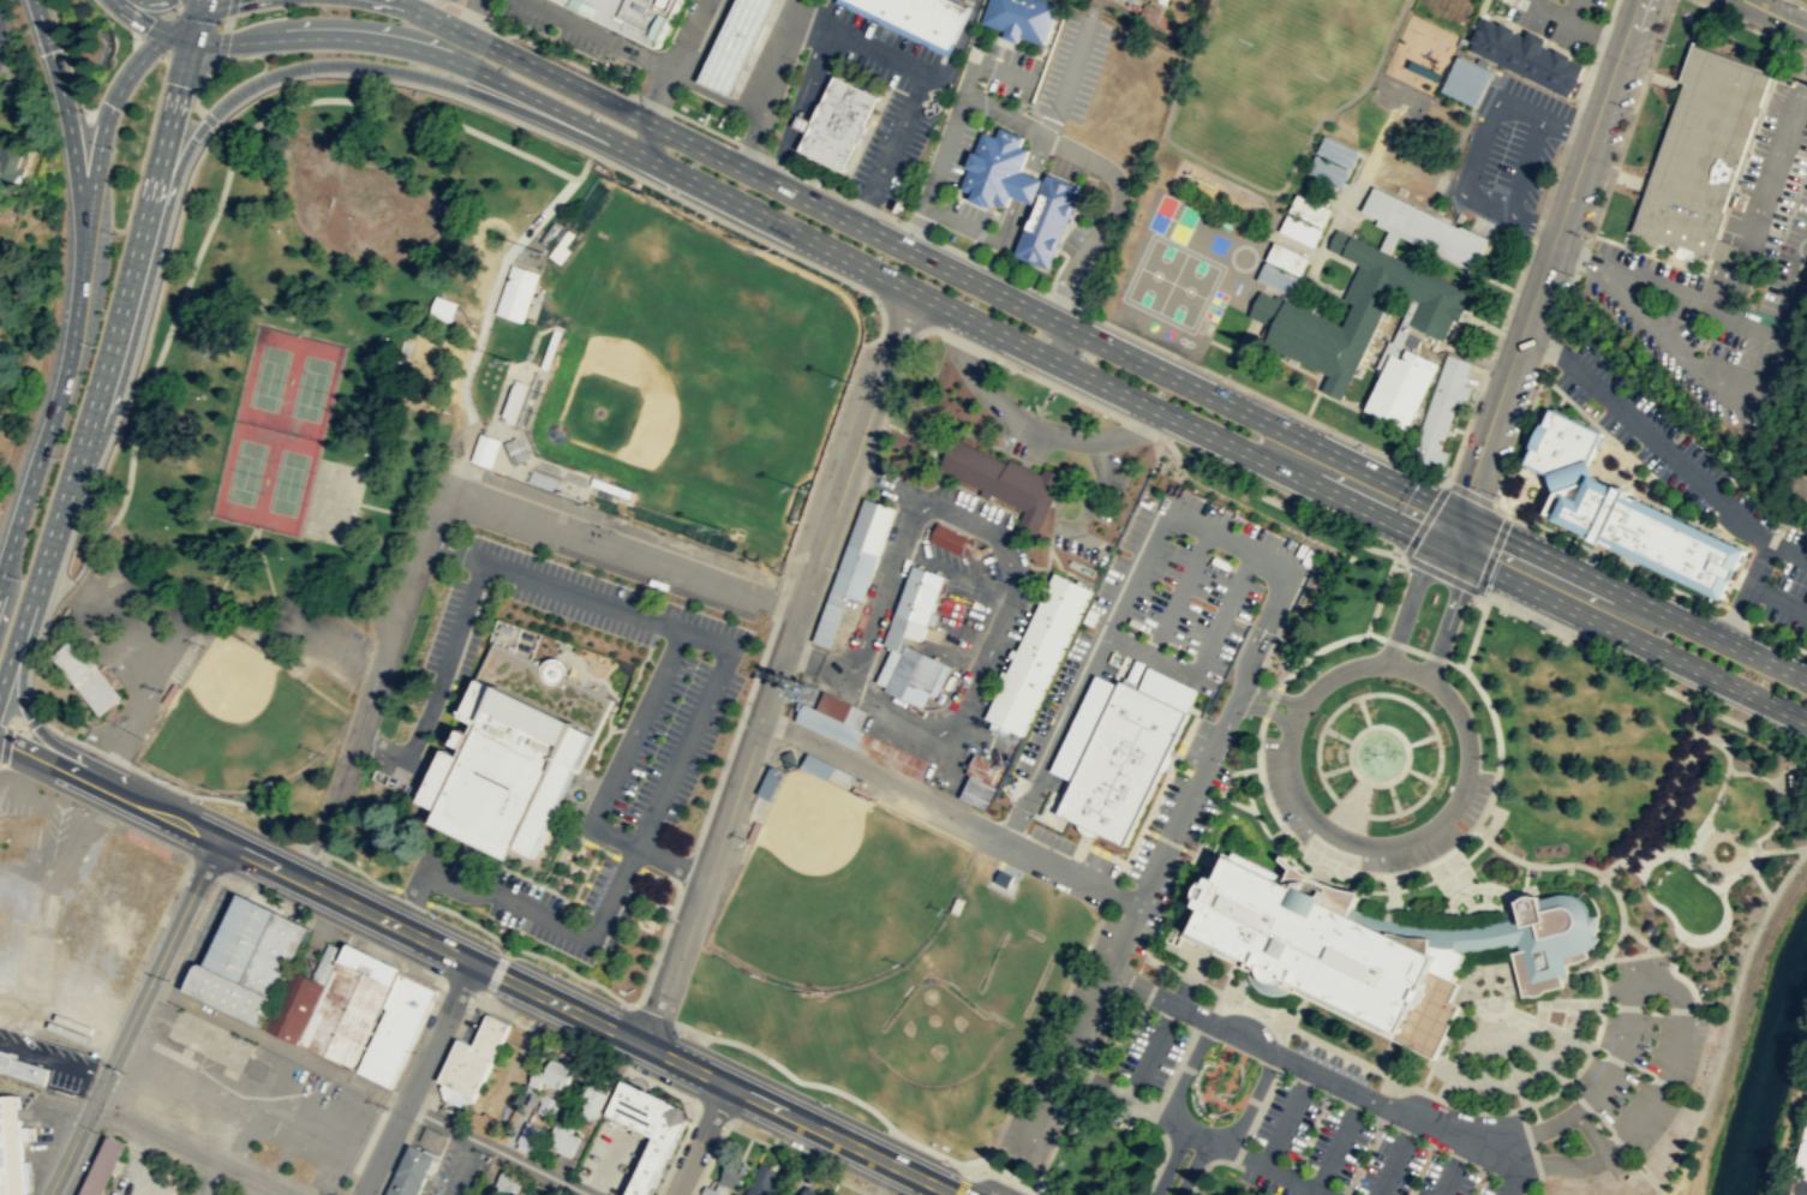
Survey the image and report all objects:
road: (157, 1)
building: (1160, 1)
road: (1800, 2)
road: (430, 5)
street lamp: (1796, 5)
road: (396, 6)
road: (408, 6)
road: (203, 8)
road: (229, 8)
street lamp: (322, 8)
road: (468, 8)
building: (1150, 12)
road: (1776, 14)
building: (640, 16)
building: (920, 17)
building: (1021, 17)
fountain: (1687, 17)
road: (198, 18)
street lamp: (399, 20)
parking lot: (1558, 20)
road: (227, 23)
road: (150, 25)
road: (461, 30)
road: (602, 34)
traffic signals: (229, 43)
road: (222, 44)
building: (742, 44)
gas station: (742, 44)
road: (957, 46)
building: (1527, 55)
parking lot: (1072, 61)
road: (334, 62)
building: (1428, 70)
street lamp: (508, 71)
parking lot: (1009, 71)
road: (670, 73)
road: (1066, 74)
road: (202, 79)
building: (1466, 79)
road: (920, 80)
road: (401, 82)
road: (770, 84)
park: (1273, 85)
road: (808, 92)
road: (815, 97)
park: (1400, 98)
road: (796, 103)
traffic signals: (64, 107)
road: (198, 108)
street lamp: (602, 116)
road: (208, 118)
building: (840, 120)
road: (66, 121)
road: (949, 129)
road: (103, 130)
road: (1478, 148)
parking lot: (950, 149)
building: (1336, 150)
building: (1700, 150)
road: (1035, 153)
road: (158, 154)
parking lot: (1509, 155)
street lamp: (696, 163)
road: (1525, 163)
building: (993, 166)
building: (11, 168)
building: (1328, 169)
road: (1761, 181)
road: (223, 187)
road: (754, 208)
building: (1309, 209)
parking lot: (968, 211)
road: (1112, 215)
road: (951, 217)
building: (1046, 219)
building: (1424, 225)
road: (864, 227)
building: (1300, 228)
street lamp: (115, 234)
road: (1530, 241)
road: (964, 255)
building: (1286, 257)
parking lot: (1082, 258)
road: (1582, 258)
road: (1544, 264)
park: (1155, 274)
building: (1278, 277)
road: (1665, 285)
park: (1187, 288)
building: (516, 291)
road: (1791, 293)
building: (445, 309)
road: (478, 311)
building: (1356, 311)
road: (484, 321)
road: (535, 333)
road: (1544, 340)
building: (1408, 341)
road: (1060, 343)
street lamp: (92, 345)
building: (550, 349)
road: (139, 357)
park: (698, 370)
park: (289, 382)
road: (1719, 382)
building: (1401, 387)
road: (1534, 392)
street lamp: (1530, 398)
road: (1087, 401)
road: (491, 406)
building: (1441, 408)
road: (52, 412)
road: (475, 422)
road: (1030, 428)
park: (295, 437)
building: (1562, 443)
street lamp: (1365, 447)
building: (485, 449)
road: (1667, 450)
road: (1521, 455)
street lamp: (56, 456)
park: (267, 477)
road: (68, 478)
building: (1004, 480)
building: (610, 486)
road: (1470, 492)
park: (331, 501)
road: (1494, 501)
road: (381, 508)
street lamp: (629, 515)
road: (1424, 520)
traffic signals: (1454, 531)
road: (1460, 533)
building: (1651, 533)
road: (257, 539)
road: (1452, 539)
parking lot: (612, 542)
road: (622, 548)
road: (454, 550)
road: (1491, 552)
street lamp: (1600, 557)
road: (1616, 560)
building: (854, 564)
road: (1009, 564)
road: (1136, 564)
road: (1440, 573)
street lamp: (20, 578)
road: (1746, 591)
road: (1179, 592)
road: (582, 593)
road: (1380, 593)
road: (5, 596)
road: (1408, 597)
building: (914, 604)
road: (1450, 614)
parking lot: (457, 628)
road: (1474, 632)
street lamp: (1665, 633)
parking lot: (318, 634)
road: (1375, 635)
road: (323, 637)
road: (1717, 637)
street lamp: (1558, 638)
road: (1393, 643)
road: (1316, 650)
road: (1414, 650)
road: (1587, 651)
road: (35, 653)
building: (1036, 655)
road: (1202, 657)
road: (1436, 657)
road: (816, 661)
building: (287, 663)
road: (1455, 664)
road: (778, 667)
road: (372, 669)
street lamp: (1447, 669)
building: (557, 670)
building: (913, 674)
building: (85, 675)
road: (1709, 675)
street lamp: (1765, 680)
road: (376, 685)
road: (630, 688)
road: (1240, 688)
building: (170, 693)
road: (20, 694)
street lamp: (32, 694)
road: (1269, 701)
road: (614, 704)
road: (1363, 711)
road: (1329, 716)
road: (31, 721)
park: (239, 721)
road: (693, 722)
road: (16, 723)
road: (56, 729)
road: (614, 729)
road: (1753, 730)
building: (855, 731)
road: (1495, 731)
road: (1338, 734)
road: (1420, 740)
road: (1258, 742)
road: (5, 743)
road: (1180, 745)
road: (383, 747)
building: (517, 748)
road: (104, 753)
fountain: (1378, 755)
building: (1121, 761)
road: (1168, 761)
road: (1350, 763)
building: (816, 765)
road: (1180, 766)
road: (1335, 769)
road: (1801, 771)
road: (1749, 772)
road: (1418, 773)
road: (1434, 778)
building: (768, 782)
building: (983, 783)
road: (899, 784)
road: (1776, 784)
road: (1719, 788)
building: (390, 790)
road: (107, 791)
building: (861, 791)
road: (1392, 796)
street lamp: (195, 797)
road: (219, 797)
road: (1185, 800)
road: (1670, 800)
road: (582, 802)
street lamp: (1040, 802)
road: (1238, 803)
street lamp: (82, 806)
road: (1351, 809)
road: (1479, 814)
road: (1497, 818)
road: (1335, 821)
road: (1773, 823)
road: (1148, 830)
building: (753, 831)
road: (1275, 831)
road: (1704, 835)
road: (1344, 837)
road: (1168, 840)
road: (592, 844)
road: (310, 846)
road: (1650, 846)
road: (1743, 846)
road: (1189, 849)
road: (1476, 849)
road: (1776, 849)
road: (650, 850)
fountain: (1723, 850)
road: (1709, 855)
road: (1639, 856)
road: (556, 859)
street lamp: (329, 861)
road: (457, 862)
road: (628, 862)
road: (1532, 864)
road: (1632, 867)
road: (204, 868)
road: (359, 870)
road: (511, 870)
road: (1346, 870)
road: (1730, 870)
road: (1740, 870)
street lamp: (1797, 870)
road: (1071, 872)
road: (1309, 872)
road: (429, 873)
road: (1643, 873)
road: (653, 874)
road: (584, 876)
road: (1302, 876)
street lamp: (229, 878)
road: (1759, 880)
park: (834, 888)
road: (1111, 891)
road: (561, 894)
road: (412, 896)
flagpole: (1477, 897)
road: (345, 900)
flagpole: (1495, 900)
road: (658, 903)
flagpole: (1461, 907)
street lamp: (438, 913)
road: (1724, 916)
road: (161, 919)
road: (469, 921)
road: (1436, 924)
flagpole: (656, 925)
street lamp: (1763, 925)
road: (333, 926)
building: (246, 932)
road: (1154, 933)
road: (588, 934)
street lamp: (353, 937)
road: (1640, 937)
building: (1549, 938)
road: (660, 939)
parking lot: (1117, 945)
road: (507, 949)
building: (281, 950)
building: (1328, 955)
road: (1632, 955)
building: (376, 958)
building: (330, 960)
road: (1582, 967)
street lamp: (557, 972)
road: (1159, 972)
road: (155, 973)
road: (495, 973)
road: (572, 973)
park: (1012, 973)
road: (1599, 976)
road: (1683, 978)
road: (1674, 987)
street lamp: (1741, 987)
building: (235, 988)
road: (456, 991)
road: (1149, 991)
building: (413, 994)
street lamp: (479, 998)
road: (484, 998)
building: (298, 1002)
road: (1618, 1005)
road: (1629, 1005)
road: (1713, 1005)
road: (1210, 1006)
building: (348, 1008)
road: (1682, 1009)
road: (1656, 1011)
road: (654, 1012)
road: (1710, 1014)
road: (1729, 1014)
building: (403, 1018)
street lamp: (1184, 1029)
road: (1233, 1030)
building: (396, 1032)
street lamp: (684, 1032)
park: (935, 1036)
road: (1041, 1039)
road: (1120, 1039)
street lamp: (573, 1040)
building: (390, 1045)
road: (1600, 1047)
street lamp: (1728, 1048)
road: (1151, 1050)
parking lot: (1149, 1052)
road: (1383, 1054)
road: (1280, 1056)
road: (1597, 1056)
building: (384, 1058)
road: (52, 1059)
road: (1616, 1059)
building: (471, 1060)
parking lot: (1333, 1060)
parking lot: (1638, 1062)
road: (1627, 1064)
road: (1184, 1066)
building: (23, 1069)
road: (627, 1069)
building: (377, 1071)
building: (558, 1071)
street lamp: (1282, 1074)
building: (537, 1076)
road: (414, 1077)
road: (714, 1077)
road: (1085, 1077)
road: (1210, 1081)
road: (826, 1086)
road: (1668, 1086)
road: (1419, 1088)
road: (1694, 1093)
building: (529, 1094)
street lamp: (1153, 1095)
street lamp: (1329, 1097)
building: (591, 1098)
road: (1252, 1099)
road: (1692, 1099)
street lamp: (827, 1103)
building: (549, 1104)
street lamp: (1707, 1109)
road: (711, 1112)
road: (1287, 1116)
road: (1255, 1118)
street lamp: (736, 1122)
street lamp: (1381, 1122)
building: (483, 1123)
building: (646, 1129)
road: (1192, 1129)
building: (531, 1134)
building: (431, 1136)
building: (563, 1137)
road: (700, 1139)
road: (1059, 1141)
road: (1339, 1141)
street lamp: (1249, 1142)
road: (1530, 1142)
building: (10, 1146)
parking lot: (1358, 1147)
street lamp: (1432, 1147)
road: (496, 1149)
road: (68, 1151)
road: (185, 1151)
street lamp: (1187, 1152)
road: (1395, 1155)
road: (800, 1158)
building: (1802, 1158)
road: (1169, 1160)
street lamp: (950, 1161)
road: (1157, 1164)
road: (1237, 1165)
street lamp: (1296, 1165)
building: (102, 1166)
road: (457, 1166)
road: (1193, 1166)
road: (1204, 1166)
road: (1454, 1169)
street lamp: (1676, 1169)
parking lot: (457, 1170)
building: (411, 1171)
street lamp: (1484, 1171)
building: (734, 1172)
road: (969, 1172)
building: (510, 1178)
road: (1007, 1178)
building: (767, 1181)
parking lot: (1264, 1182)
street lamp: (863, 1183)
road: (1530, 1184)
road: (962, 1185)
building: (710, 1190)
building: (810, 1190)
road: (1657, 1190)
street lamp: (1347, 1191)

